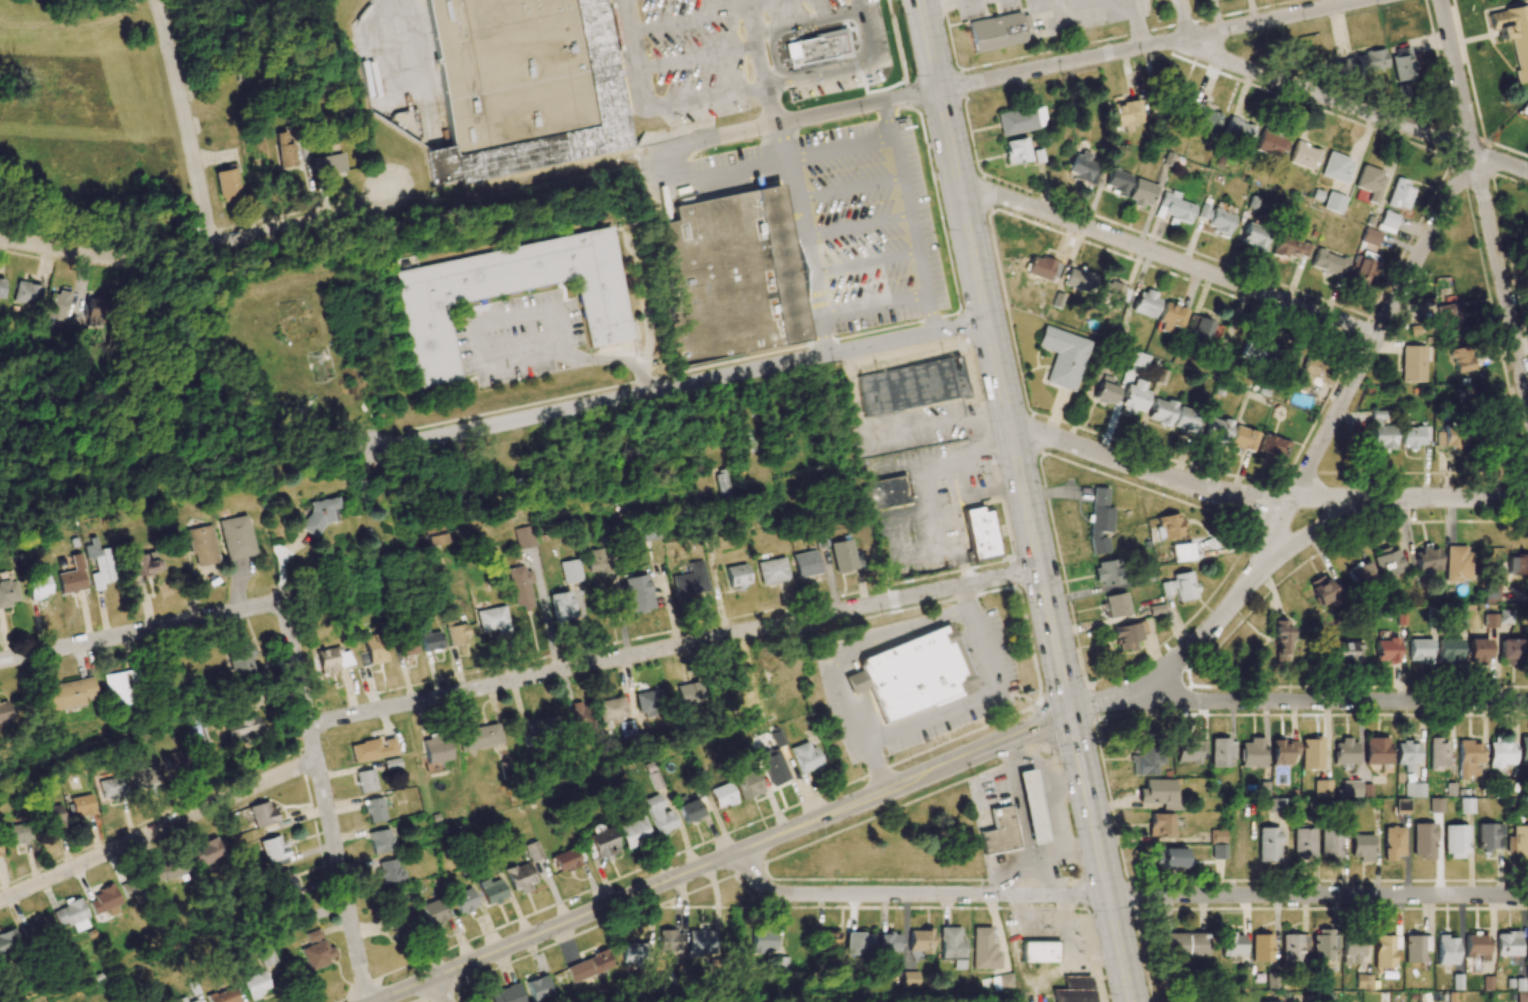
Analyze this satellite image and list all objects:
road: (1071, 1)
road: (939, 4)
road: (706, 15)
road: (1185, 18)
road: (1137, 23)
building: (998, 31)
building: (442, 32)
building: (1514, 34)
road: (1151, 44)
road: (384, 47)
road: (773, 47)
building: (817, 48)
road: (697, 57)
building: (1372, 60)
road: (761, 63)
building: (1401, 64)
building: (1348, 67)
road: (735, 91)
building: (603, 92)
road: (1356, 107)
building: (1126, 114)
building: (1204, 119)
road: (891, 120)
building: (1021, 120)
road: (184, 121)
road: (782, 124)
building: (1239, 130)
building: (1271, 143)
road: (864, 145)
building: (285, 150)
building: (1016, 150)
building: (1304, 155)
building: (328, 165)
building: (1082, 168)
building: (1337, 168)
building: (1117, 181)
building: (1370, 183)
building: (227, 184)
road: (847, 187)
building: (1141, 193)
building: (1400, 194)
building: (1334, 202)
road: (1483, 203)
building: (1174, 207)
building: (1216, 219)
building: (1389, 219)
road: (855, 227)
building: (1254, 236)
building: (1370, 237)
road: (800, 240)
road: (200, 246)
building: (1290, 247)
road: (1167, 259)
road: (863, 262)
building: (1329, 262)
building: (1042, 268)
building: (1361, 271)
building: (732, 276)
building: (1080, 280)
building: (1, 288)
building: (1112, 292)
building: (27, 293)
building: (1146, 303)
building: (60, 305)
road: (872, 307)
building: (99, 312)
building: (1171, 317)
building: (1449, 317)
building: (427, 321)
road: (1381, 326)
building: (1199, 330)
building: (1254, 350)
road: (995, 356)
building: (1063, 357)
building: (1138, 359)
building: (1288, 359)
building: (1460, 359)
road: (489, 363)
building: (1413, 367)
building: (1309, 373)
road: (678, 385)
building: (913, 385)
building: (1105, 390)
building: (1135, 397)
building: (1161, 411)
building: (1186, 421)
road: (936, 428)
building: (1217, 429)
building: (1413, 436)
building: (1449, 437)
building: (1243, 438)
building: (749, 442)
building: (1272, 448)
road: (1151, 472)
building: (720, 483)
building: (887, 492)
road: (1455, 498)
road: (1304, 504)
building: (320, 513)
building: (1099, 521)
building: (1169, 526)
road: (1319, 528)
building: (435, 534)
building: (980, 534)
building: (236, 537)
building: (524, 537)
building: (202, 545)
building: (1182, 552)
building: (842, 555)
building: (1427, 560)
building: (598, 561)
building: (1388, 562)
building: (806, 563)
building: (1458, 563)
building: (98, 564)
building: (143, 564)
building: (1517, 565)
building: (571, 570)
building: (773, 571)
building: (1107, 572)
building: (1362, 575)
building: (737, 576)
building: (70, 577)
building: (692, 583)
building: (520, 585)
building: (1180, 586)
building: (36, 587)
building: (1323, 591)
building: (7, 593)
building: (1492, 593)
building: (640, 598)
road: (669, 603)
building: (1116, 605)
building: (562, 608)
building: (1506, 617)
building: (494, 619)
building: (1490, 620)
road: (1206, 628)
road: (140, 631)
building: (457, 633)
building: (1128, 636)
building: (432, 640)
building: (1280, 640)
road: (858, 645)
building: (405, 646)
building: (374, 648)
building: (1387, 650)
building: (1345, 651)
building: (1419, 651)
building: (1449, 651)
building: (1510, 651)
building: (1478, 653)
building: (333, 660)
building: (240, 661)
building: (914, 674)
road: (496, 684)
building: (119, 688)
building: (68, 693)
building: (689, 693)
road: (1110, 700)
building: (650, 702)
road: (1340, 702)
road: (959, 704)
building: (611, 709)
building: (3, 711)
traffic signals: (1070, 713)
building: (577, 716)
building: (541, 726)
building: (242, 728)
building: (478, 737)
building: (372, 749)
building: (1376, 750)
building: (1523, 750)
building: (1190, 751)
building: (1283, 751)
building: (1501, 751)
building: (435, 752)
building: (1222, 752)
building: (1345, 752)
building: (1252, 753)
building: (1311, 753)
building: (1438, 754)
building: (1407, 755)
building: (805, 756)
building: (1468, 758)
building: (1147, 761)
building: (173, 762)
building: (773, 766)
road: (1048, 772)
building: (146, 778)
building: (366, 780)
building: (747, 784)
building: (112, 788)
building: (1322, 788)
building: (1351, 788)
building: (1414, 790)
building: (1160, 794)
building: (722, 795)
road: (325, 801)
building: (82, 805)
building: (1032, 805)
building: (1436, 805)
building: (1466, 805)
building: (1402, 806)
building: (373, 810)
building: (263, 815)
building: (659, 815)
building: (54, 816)
building: (1161, 824)
building: (1000, 831)
building: (634, 832)
building: (17, 833)
road: (1025, 833)
building: (1489, 836)
building: (381, 841)
building: (1423, 841)
building: (1456, 842)
building: (1518, 842)
building: (601, 843)
park: (889, 843)
building: (1330, 843)
building: (1392, 843)
building: (1218, 844)
building: (1268, 844)
building: (1303, 844)
building: (1361, 847)
building: (274, 850)
building: (533, 851)
building: (205, 852)
building: (0, 853)
road: (1101, 857)
building: (1170, 857)
road: (721, 859)
building: (565, 860)
building: (170, 868)
building: (389, 872)
building: (520, 877)
road: (1036, 877)
building: (284, 882)
building: (135, 885)
building: (492, 891)
road: (914, 894)
road: (1318, 895)
building: (104, 900)
building: (465, 900)
building: (436, 911)
building: (70, 915)
building: (401, 924)
building: (36, 928)
building: (828, 939)
building: (670, 940)
building: (920, 940)
building: (8, 941)
building: (764, 941)
building: (701, 942)
building: (889, 942)
building: (859, 943)
building: (1184, 944)
building: (1232, 944)
building: (1507, 944)
building: (1322, 945)
building: (953, 946)
building: (1476, 946)
building: (1527, 946)
building: (1261, 948)
building: (1291, 948)
building: (1384, 948)
building: (1416, 948)
building: (984, 949)
building: (317, 950)
building: (1446, 950)
building: (1352, 951)
building: (1039, 952)
building: (635, 955)
building: (267, 956)
building: (590, 966)
building: (911, 979)
building: (1002, 981)
building: (1363, 981)
building: (256, 984)
building: (539, 989)
building: (1075, 990)
road: (428, 994)
building: (508, 994)
building: (223, 996)
building: (1424, 996)
building: (1522, 996)
building: (180, 1000)
building: (194, 1001)

